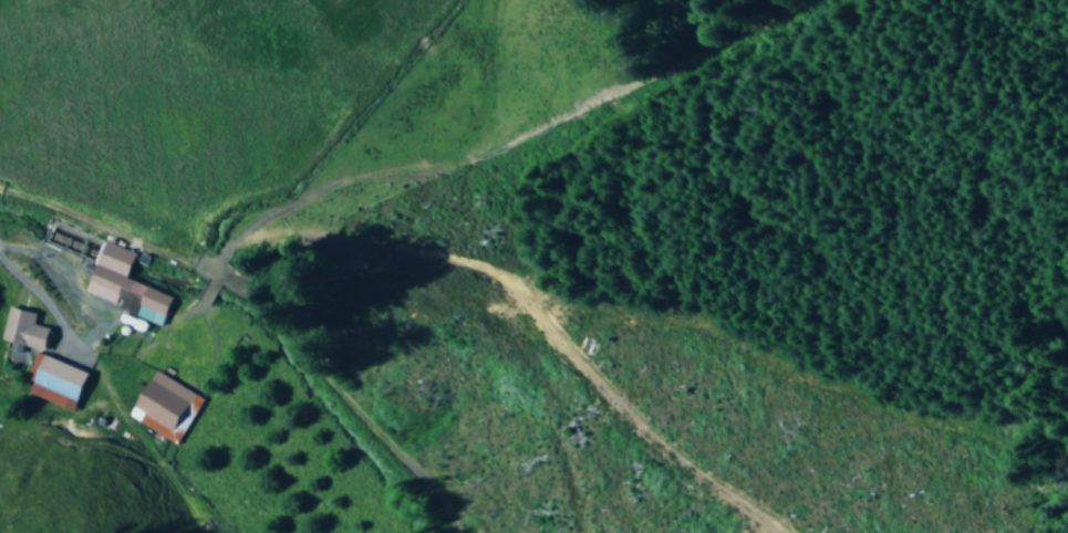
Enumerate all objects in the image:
building: (248, 265)
building: (125, 286)
road: (35, 296)
building: (23, 330)
building: (58, 384)
building: (163, 407)

